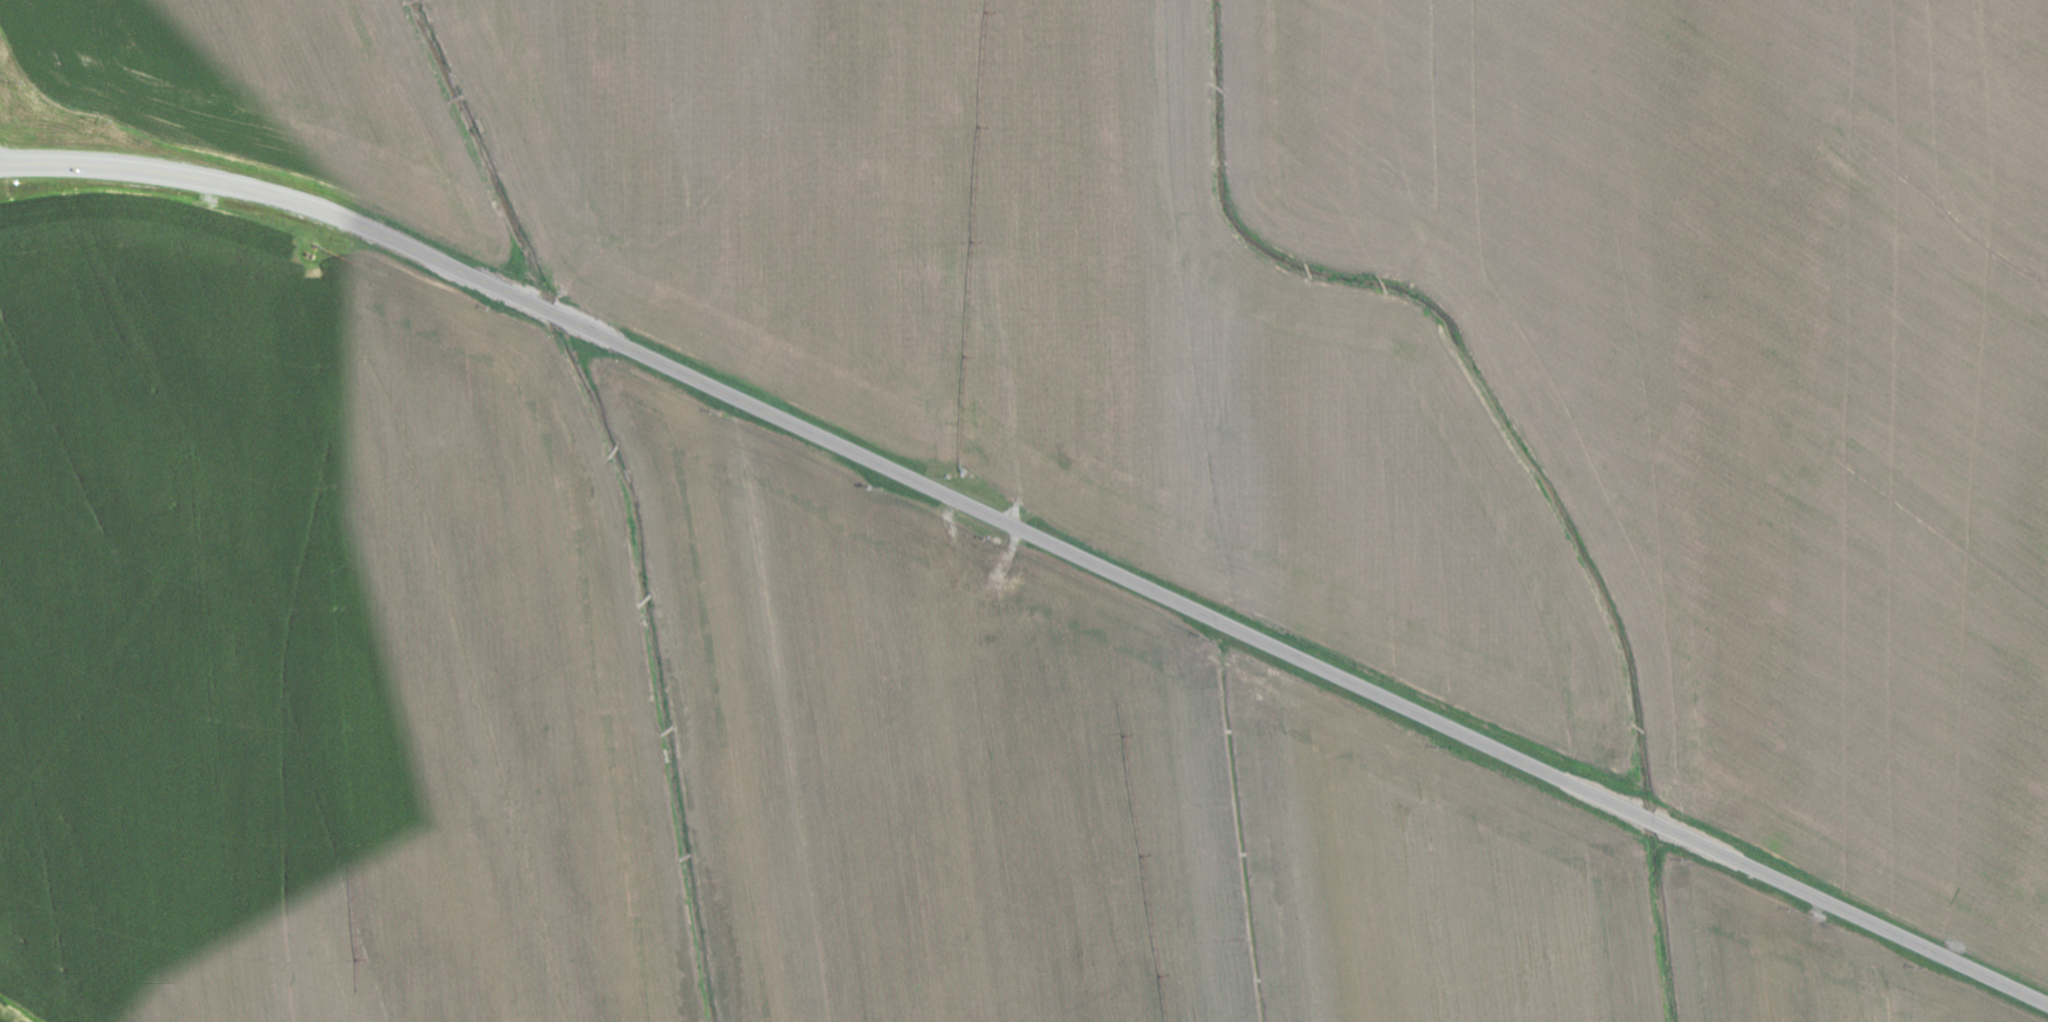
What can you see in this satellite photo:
road: (1038, 538)

